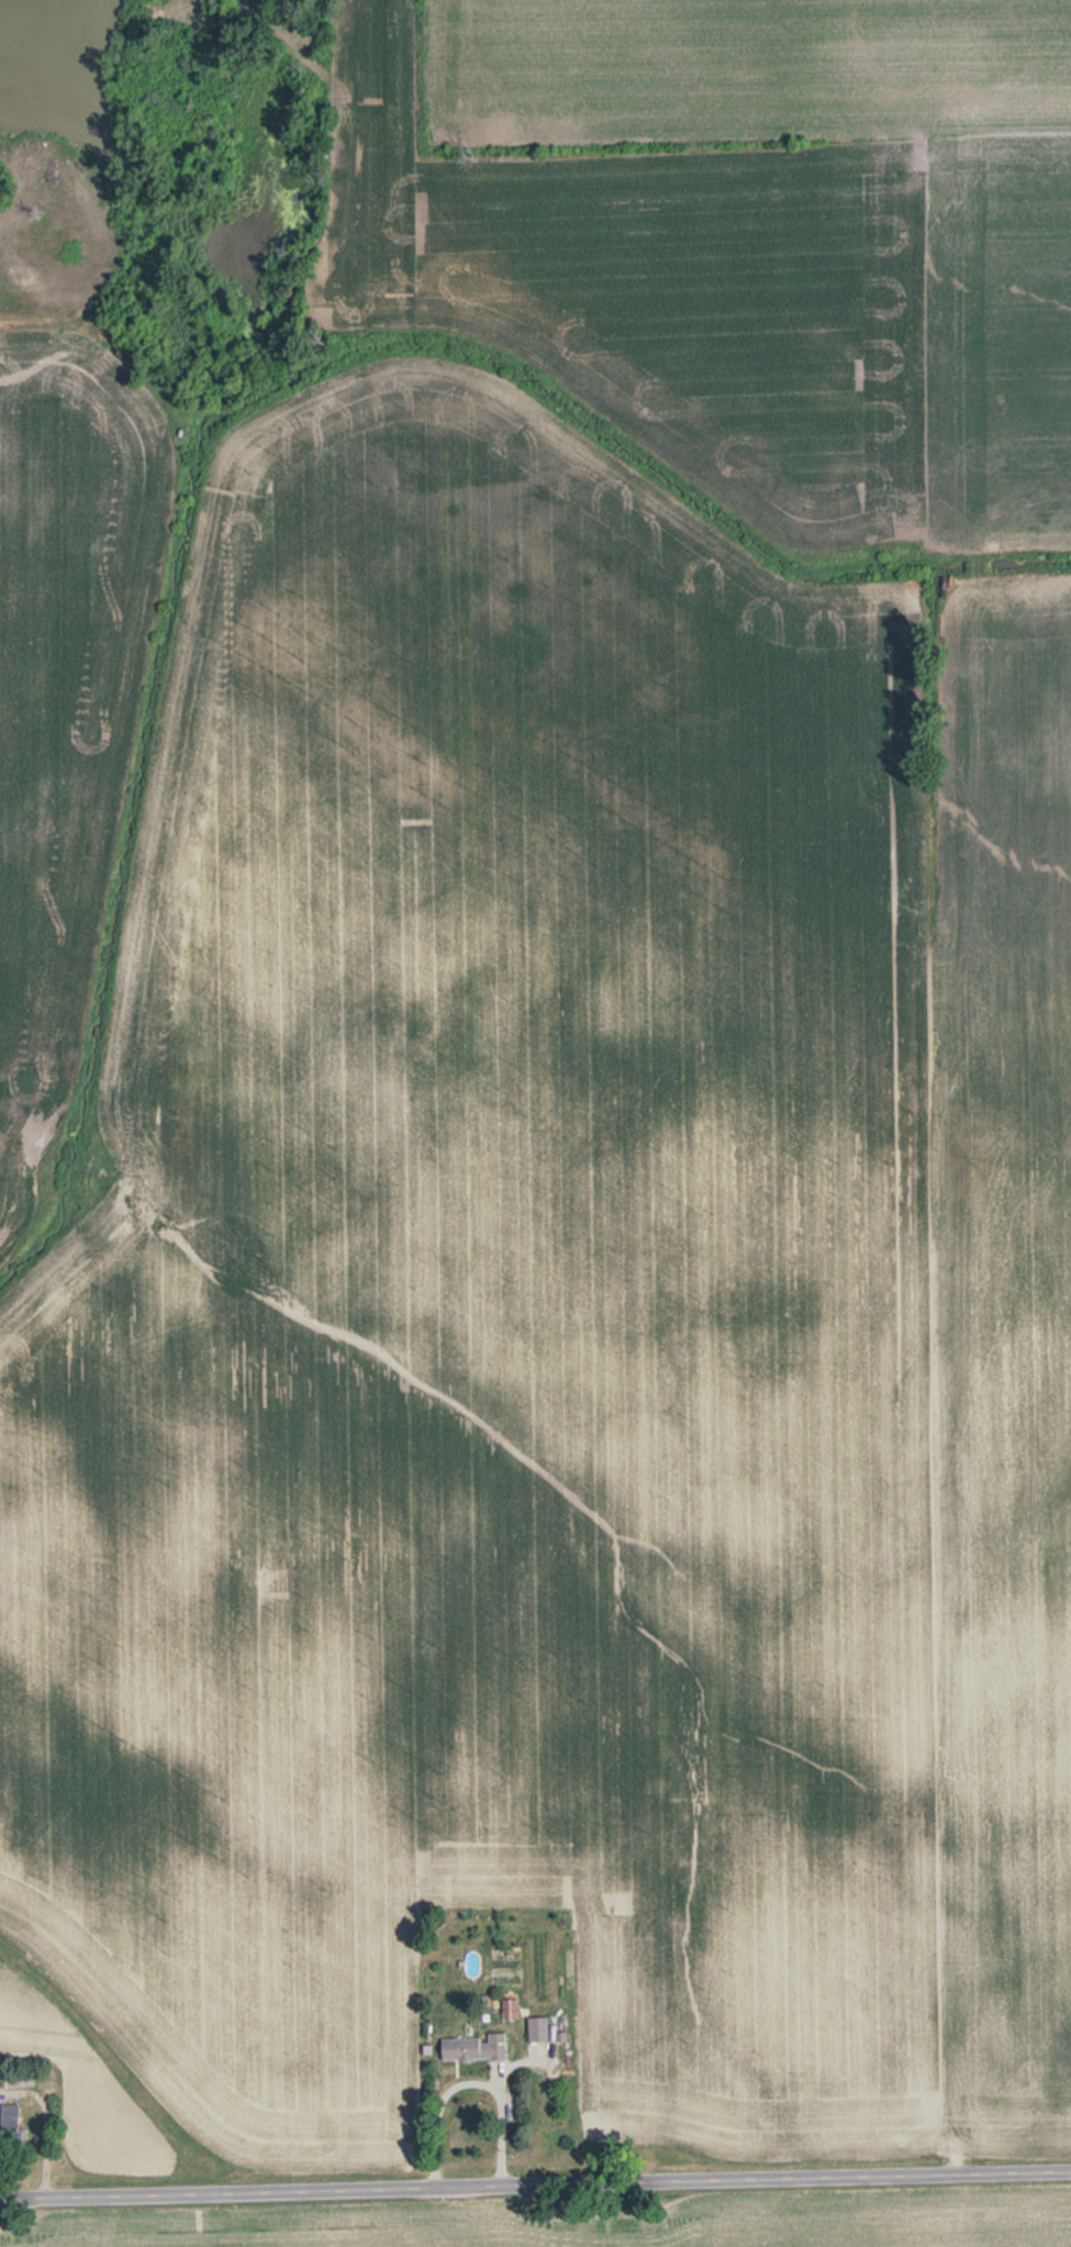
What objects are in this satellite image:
building: (509, 2009)
building: (536, 2028)
building: (473, 2047)
road: (472, 2078)
building: (8, 2116)
road: (535, 2185)

